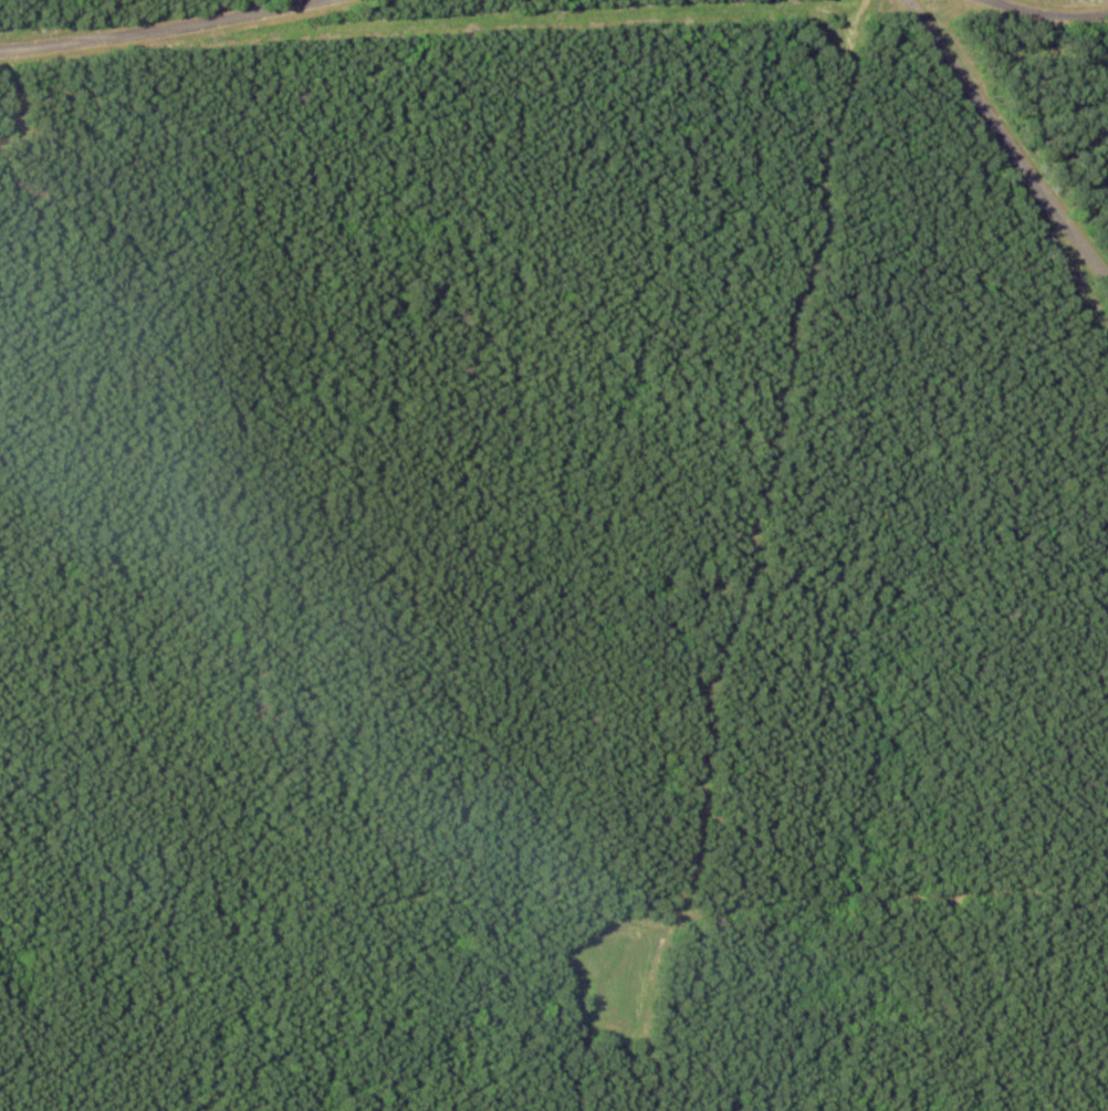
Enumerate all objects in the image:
road: (982, 15)
road: (272, 57)
road: (1010, 147)

